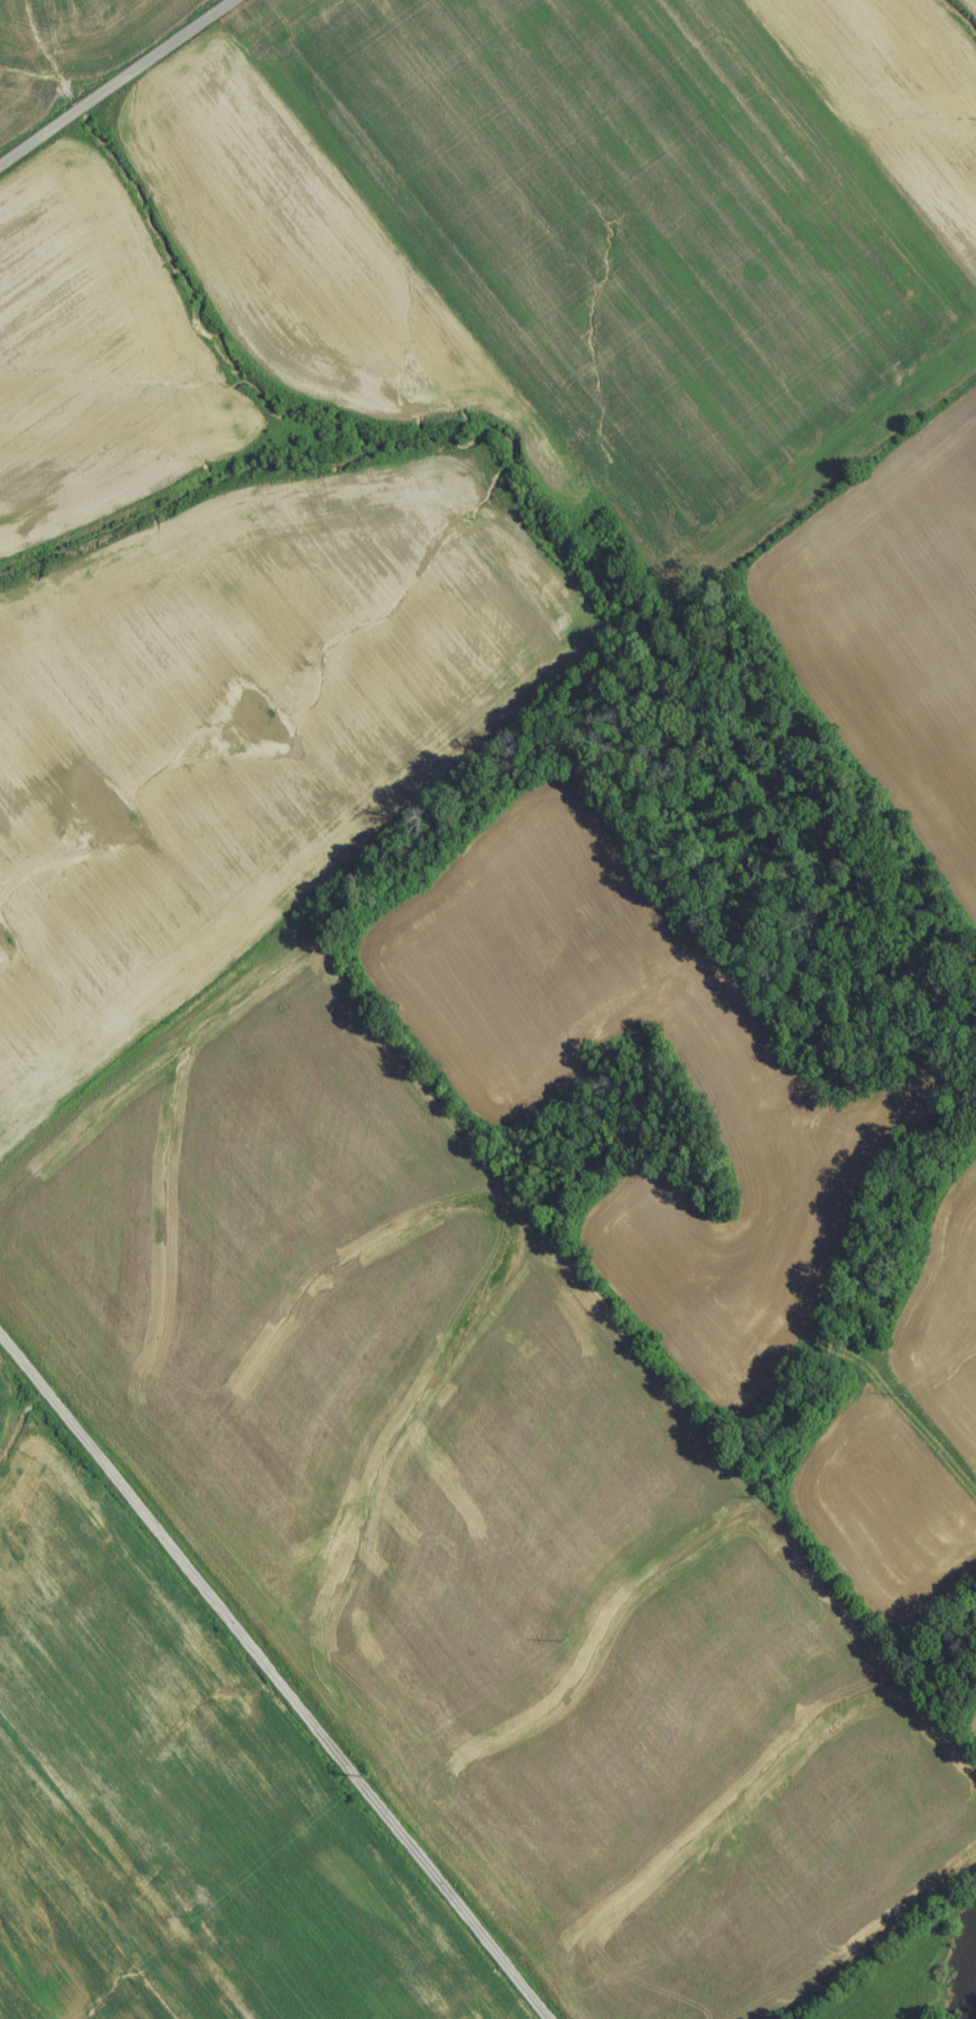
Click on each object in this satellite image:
road: (119, 84)
road: (270, 1680)

